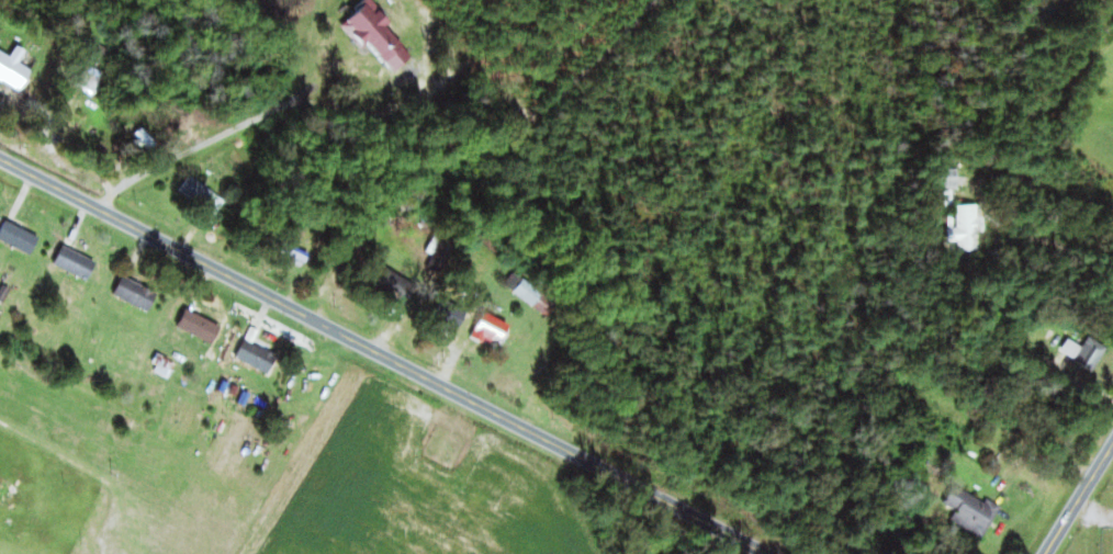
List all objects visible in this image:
building: (380, 36)
building: (103, 47)
building: (14, 67)
road: (356, 90)
building: (200, 191)
building: (963, 222)
building: (406, 223)
building: (19, 237)
building: (297, 256)
building: (75, 262)
building: (390, 281)
building: (524, 289)
building: (136, 293)
building: (451, 314)
building: (200, 326)
building: (491, 329)
building: (1087, 351)
road: (384, 354)
building: (257, 355)
building: (164, 365)
park: (443, 445)
building: (4, 486)
road: (1079, 499)
building: (971, 509)
solar farm: (1108, 539)

